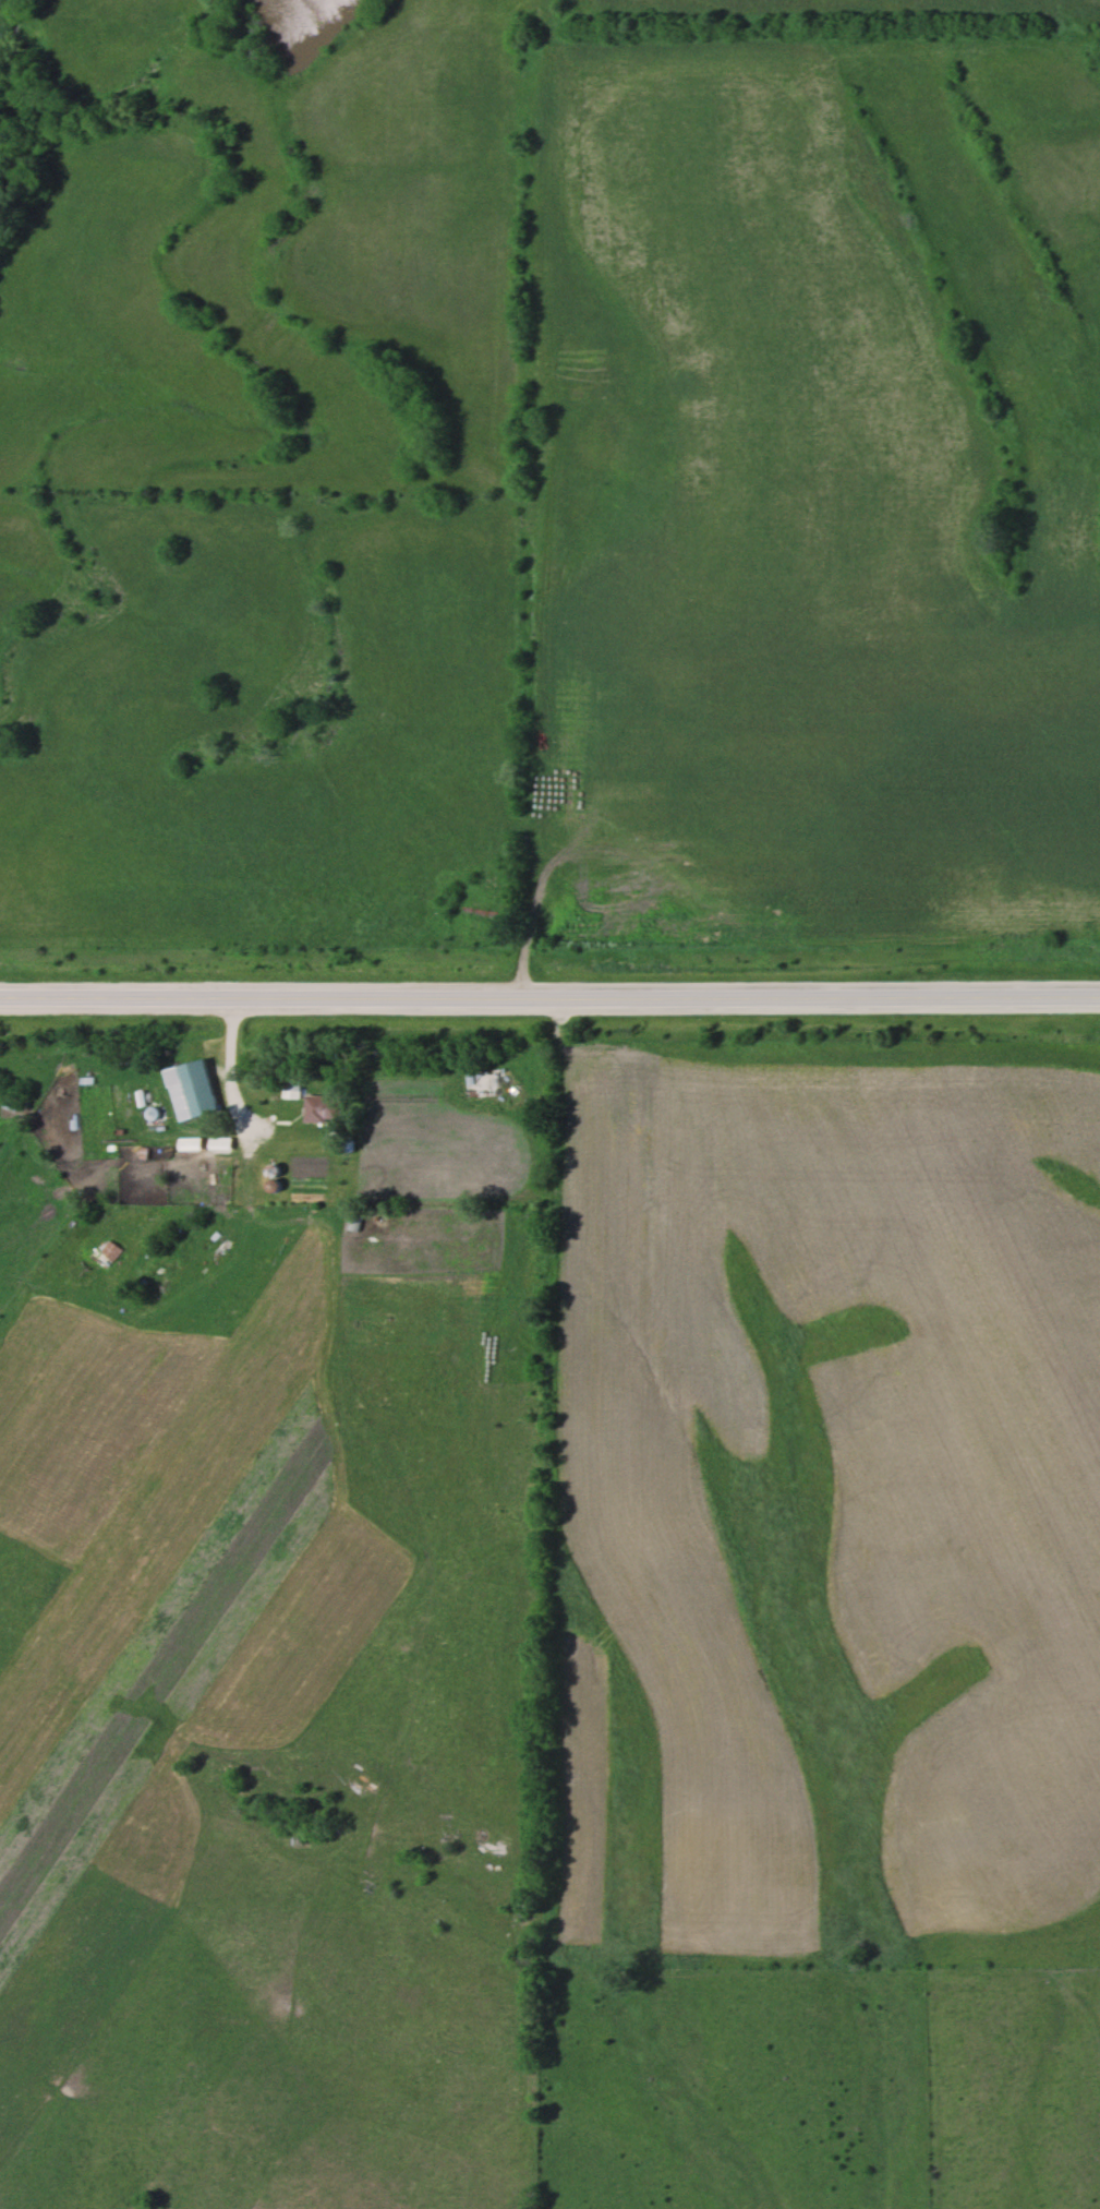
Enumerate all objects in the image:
road: (549, 998)
building: (189, 1091)
building: (315, 1105)

